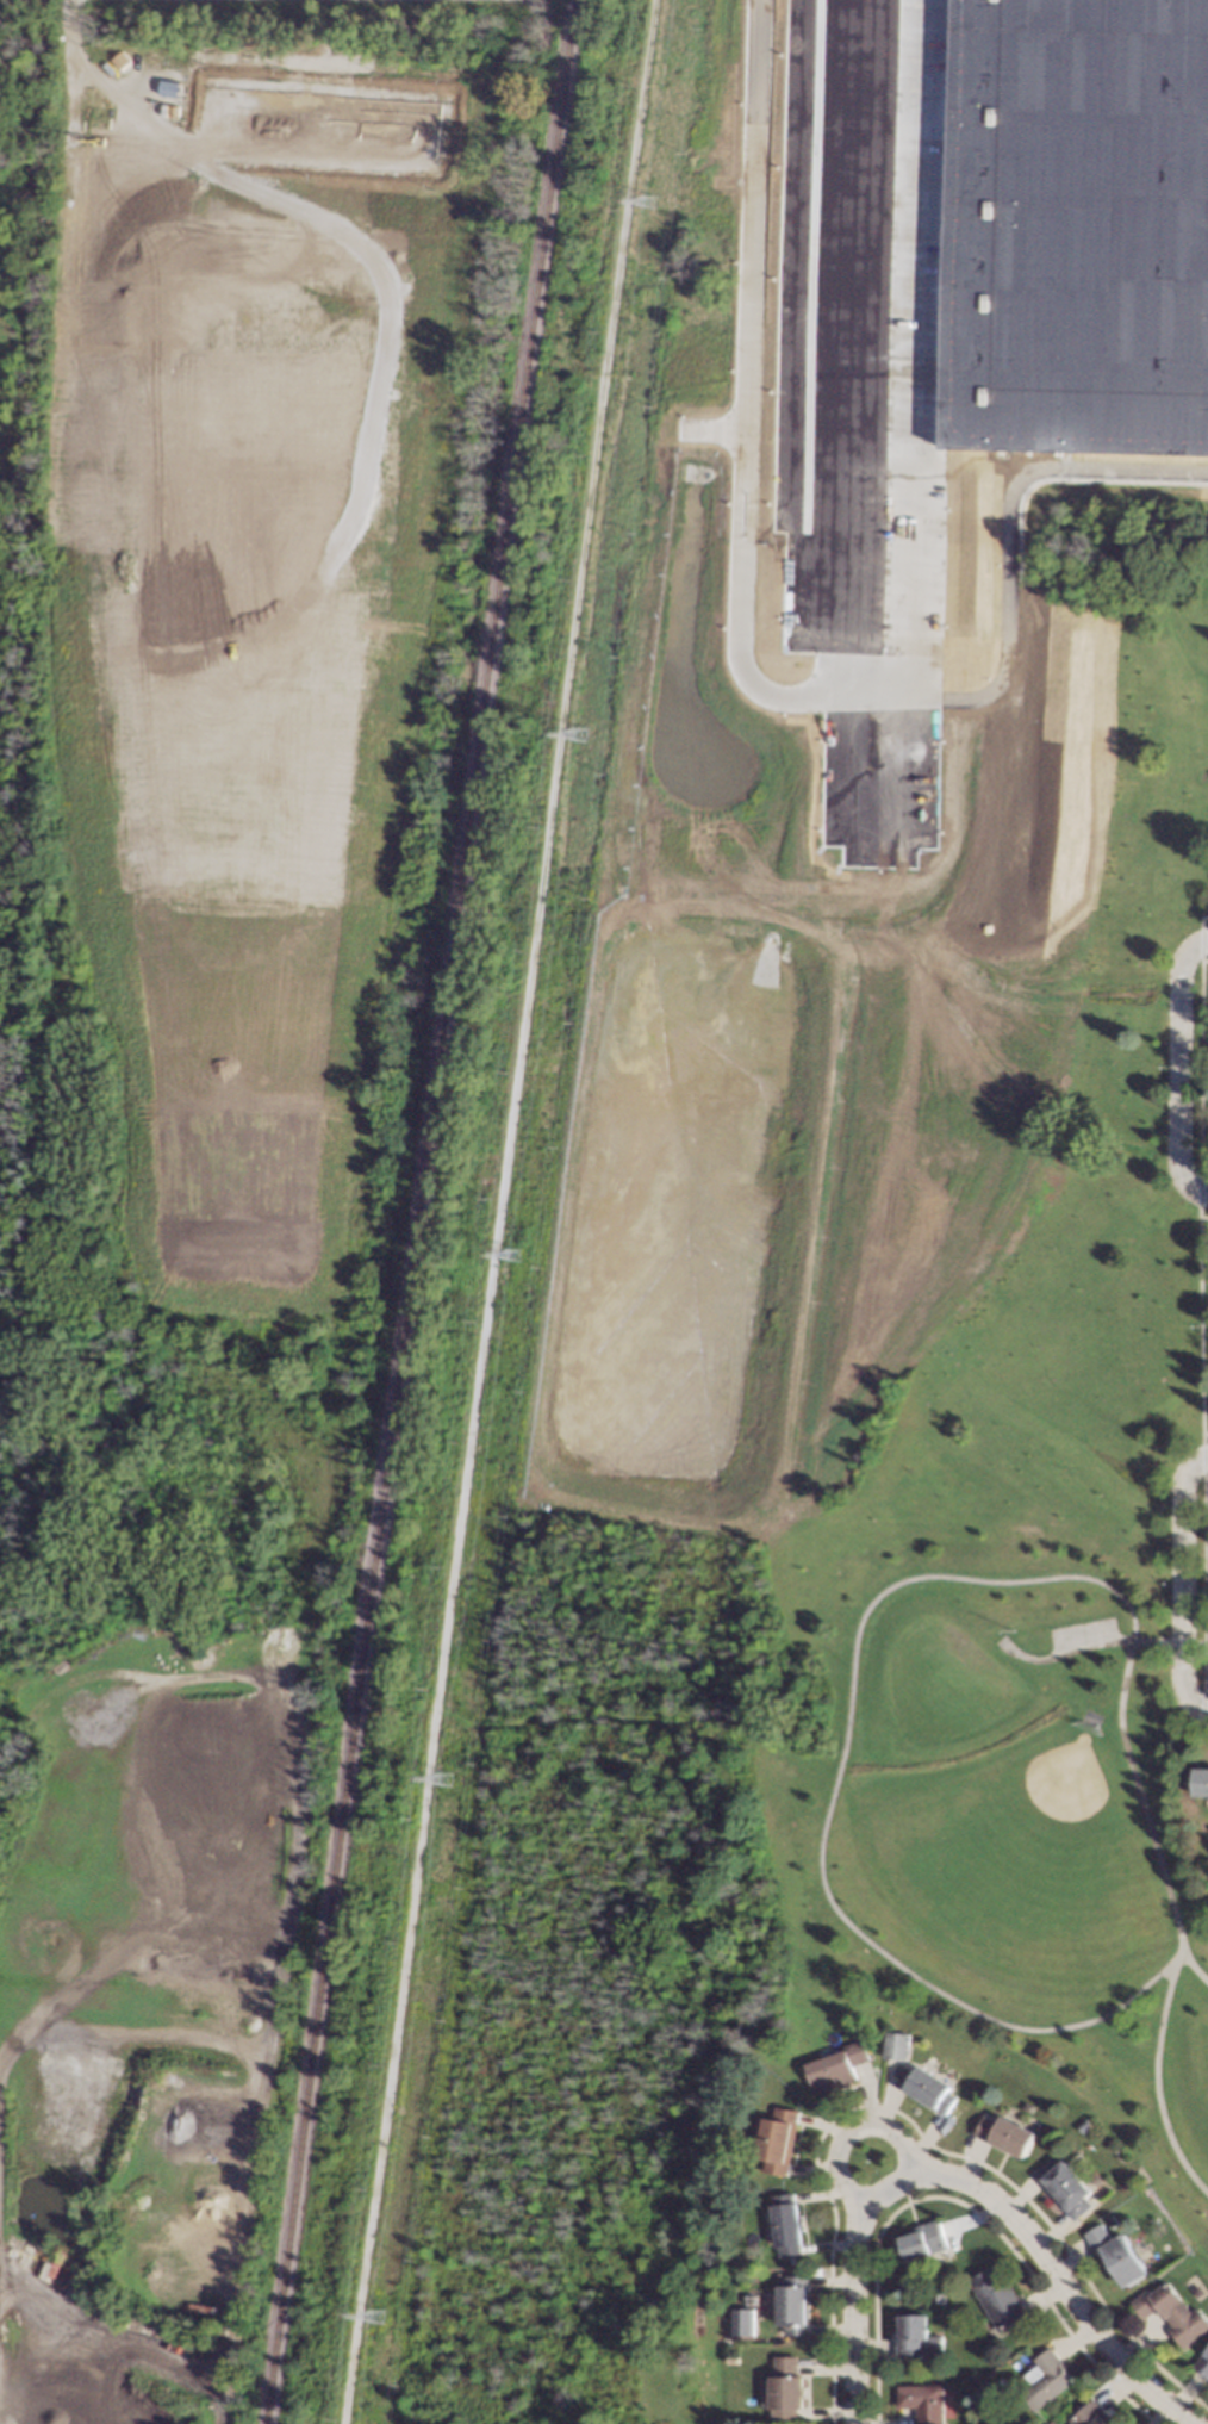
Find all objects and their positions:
building: (1079, 228)
road: (886, 349)
road: (1077, 472)
road: (741, 580)
road: (1179, 1059)
road: (1200, 1194)
railway: (422, 1212)
road: (1200, 1311)
park: (882, 1312)
road: (1197, 1460)
road: (1182, 1584)
parking lot: (1081, 1631)
road: (1191, 1643)
road: (1086, 1647)
road: (1197, 1709)
building: (1201, 1780)
park: (1058, 1795)
road: (94, 1892)
road: (876, 1947)
road: (1190, 1964)
building: (895, 2045)
building: (836, 2066)
road: (1157, 2082)
building: (927, 2087)
building: (1083, 2124)
road: (854, 2132)
building: (1005, 2133)
building: (779, 2139)
building: (1065, 2186)
building: (1110, 2220)
building: (787, 2223)
building: (923, 2239)
building: (1117, 2254)
road: (851, 2287)
road: (1052, 2287)
building: (997, 2296)
building: (751, 2299)
building: (936, 2299)
building: (795, 2304)
building: (1172, 2311)
building: (743, 2329)
building: (913, 2333)
road: (125, 2342)
building: (734, 2350)
building: (1202, 2363)
building: (1046, 2379)
building: (787, 2382)
building: (923, 2401)
building: (1091, 2414)
building: (1051, 2423)

